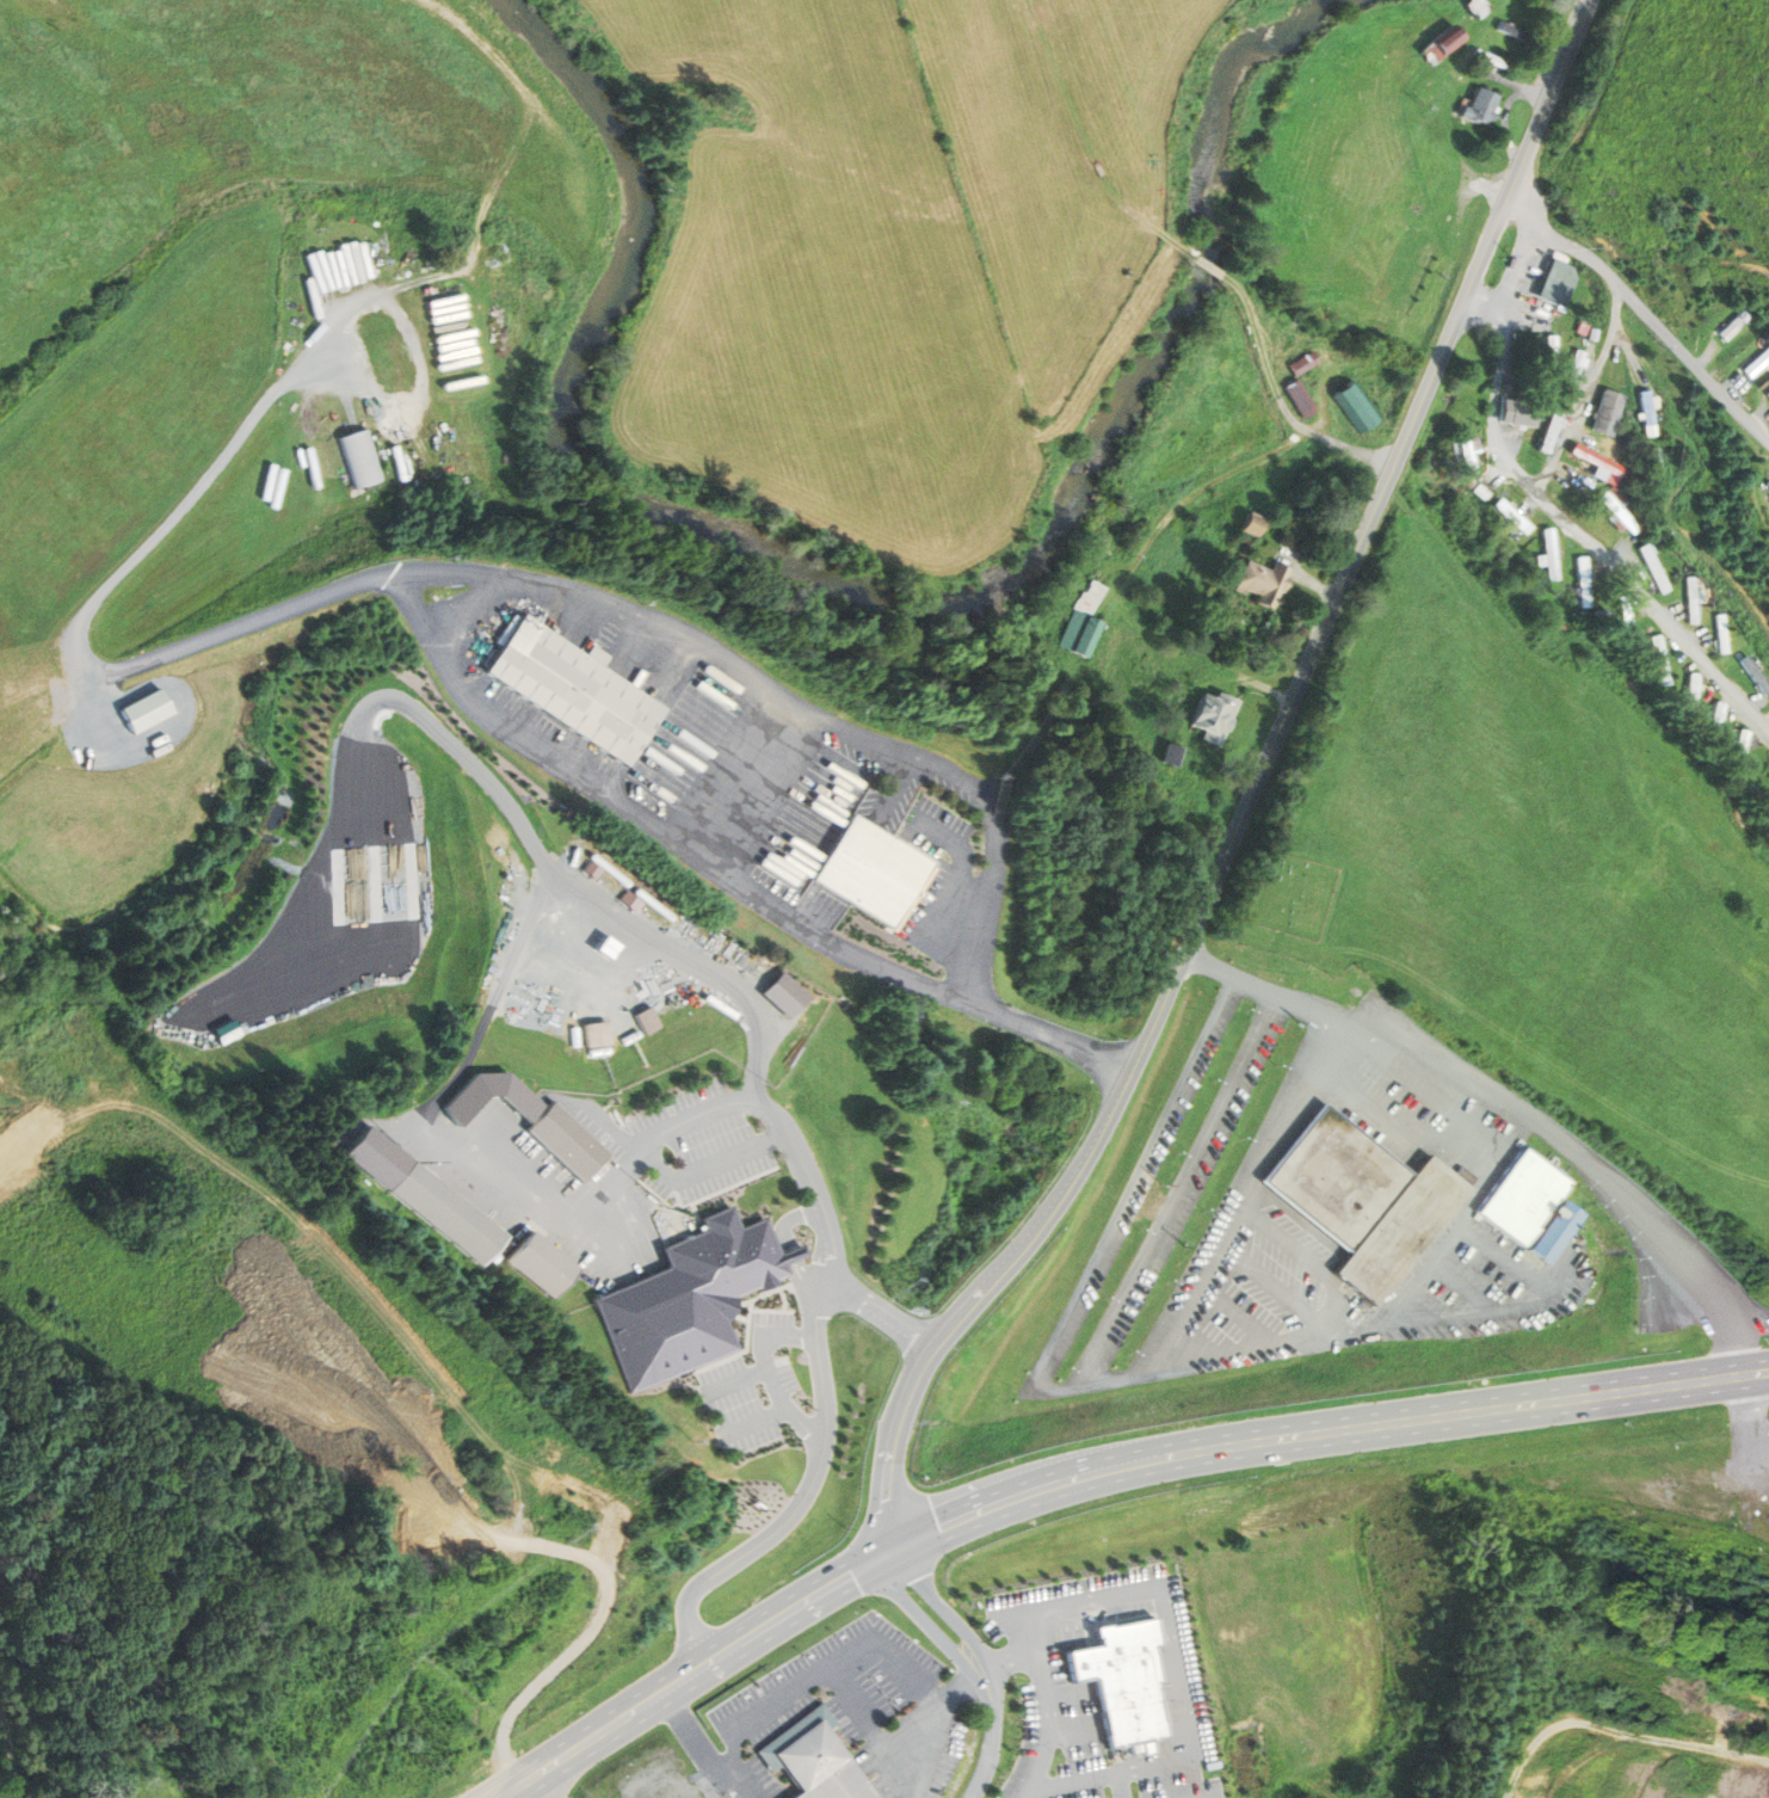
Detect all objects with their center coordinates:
building: (1475, 7)
building: (1514, 31)
building: (1447, 41)
building: (1429, 54)
building: (1491, 59)
road: (1520, 87)
river: (1222, 93)
building: (1440, 100)
building: (1479, 107)
road: (1505, 125)
road: (1087, 142)
road: (1562, 241)
road: (1516, 263)
road: (1209, 267)
building: (1404, 270)
building: (1559, 283)
building: (1736, 325)
building: (1551, 359)
building: (1302, 363)
building: (1757, 363)
road: (1693, 364)
building: (1572, 374)
building: (1768, 380)
road: (1586, 392)
road: (1278, 398)
building: (1300, 399)
building: (1356, 406)
building: (1647, 407)
building: (1522, 412)
building: (1608, 412)
river: (562, 425)
building: (1549, 431)
river: (1112, 436)
building: (1467, 451)
building: (359, 458)
building: (1597, 460)
building: (1480, 492)
road: (184, 510)
building: (1620, 512)
building: (1512, 515)
building: (1251, 524)
road: (1576, 529)
building: (1551, 554)
building: (1654, 568)
building: (1262, 581)
building: (1584, 581)
building: (1693, 599)
building: (1626, 617)
building: (1722, 633)
building: (1084, 636)
building: (1659, 660)
building: (1756, 675)
street lamp: (683, 678)
building: (571, 689)
building: (1693, 690)
building: (144, 710)
building: (1209, 715)
building: (1716, 718)
building: (1740, 751)
building: (1171, 753)
road: (1256, 790)
road: (603, 795)
street lamp: (611, 815)
road: (532, 837)
street lamp: (677, 863)
building: (868, 870)
street lamp: (741, 907)
building: (603, 948)
street lamp: (807, 948)
street lamp: (881, 986)
building: (1320, 992)
building: (788, 995)
building: (38, 1020)
building: (648, 1020)
street lamp: (970, 1022)
road: (1343, 1026)
street lamp: (1087, 1029)
building: (226, 1033)
building: (597, 1034)
road: (762, 1042)
road: (1428, 1045)
street lamp: (1071, 1067)
road: (448, 1089)
road: (1394, 1128)
building: (565, 1141)
road: (652, 1144)
road: (800, 1152)
road: (673, 1174)
road: (1138, 1184)
road: (1190, 1194)
building: (1525, 1196)
building: (1366, 1199)
building: (1147, 1205)
building: (448, 1213)
road: (1461, 1230)
building: (1555, 1230)
road: (614, 1242)
road: (832, 1252)
road: (1512, 1257)
building: (543, 1266)
road: (1473, 1287)
building: (688, 1299)
road: (1425, 1311)
road: (885, 1312)
road: (1319, 1336)
road: (773, 1374)
road: (739, 1381)
road: (1397, 1422)
road: (758, 1423)
road: (805, 1500)
building: (437, 1528)
traffic signals: (898, 1547)
road: (1068, 1625)
road: (961, 1627)
road: (757, 1628)
building: (870, 1633)
road: (938, 1634)
road: (871, 1640)
road: (1011, 1657)
road: (1075, 1664)
road: (1175, 1674)
building: (1120, 1680)
road: (1080, 1686)
road: (1062, 1697)
road: (859, 1704)
road: (1044, 1705)
road: (901, 1731)
road: (1645, 1739)
road: (704, 1753)
road: (987, 1760)
building: (819, 1767)
road: (1116, 1785)
road: (516, 1794)

